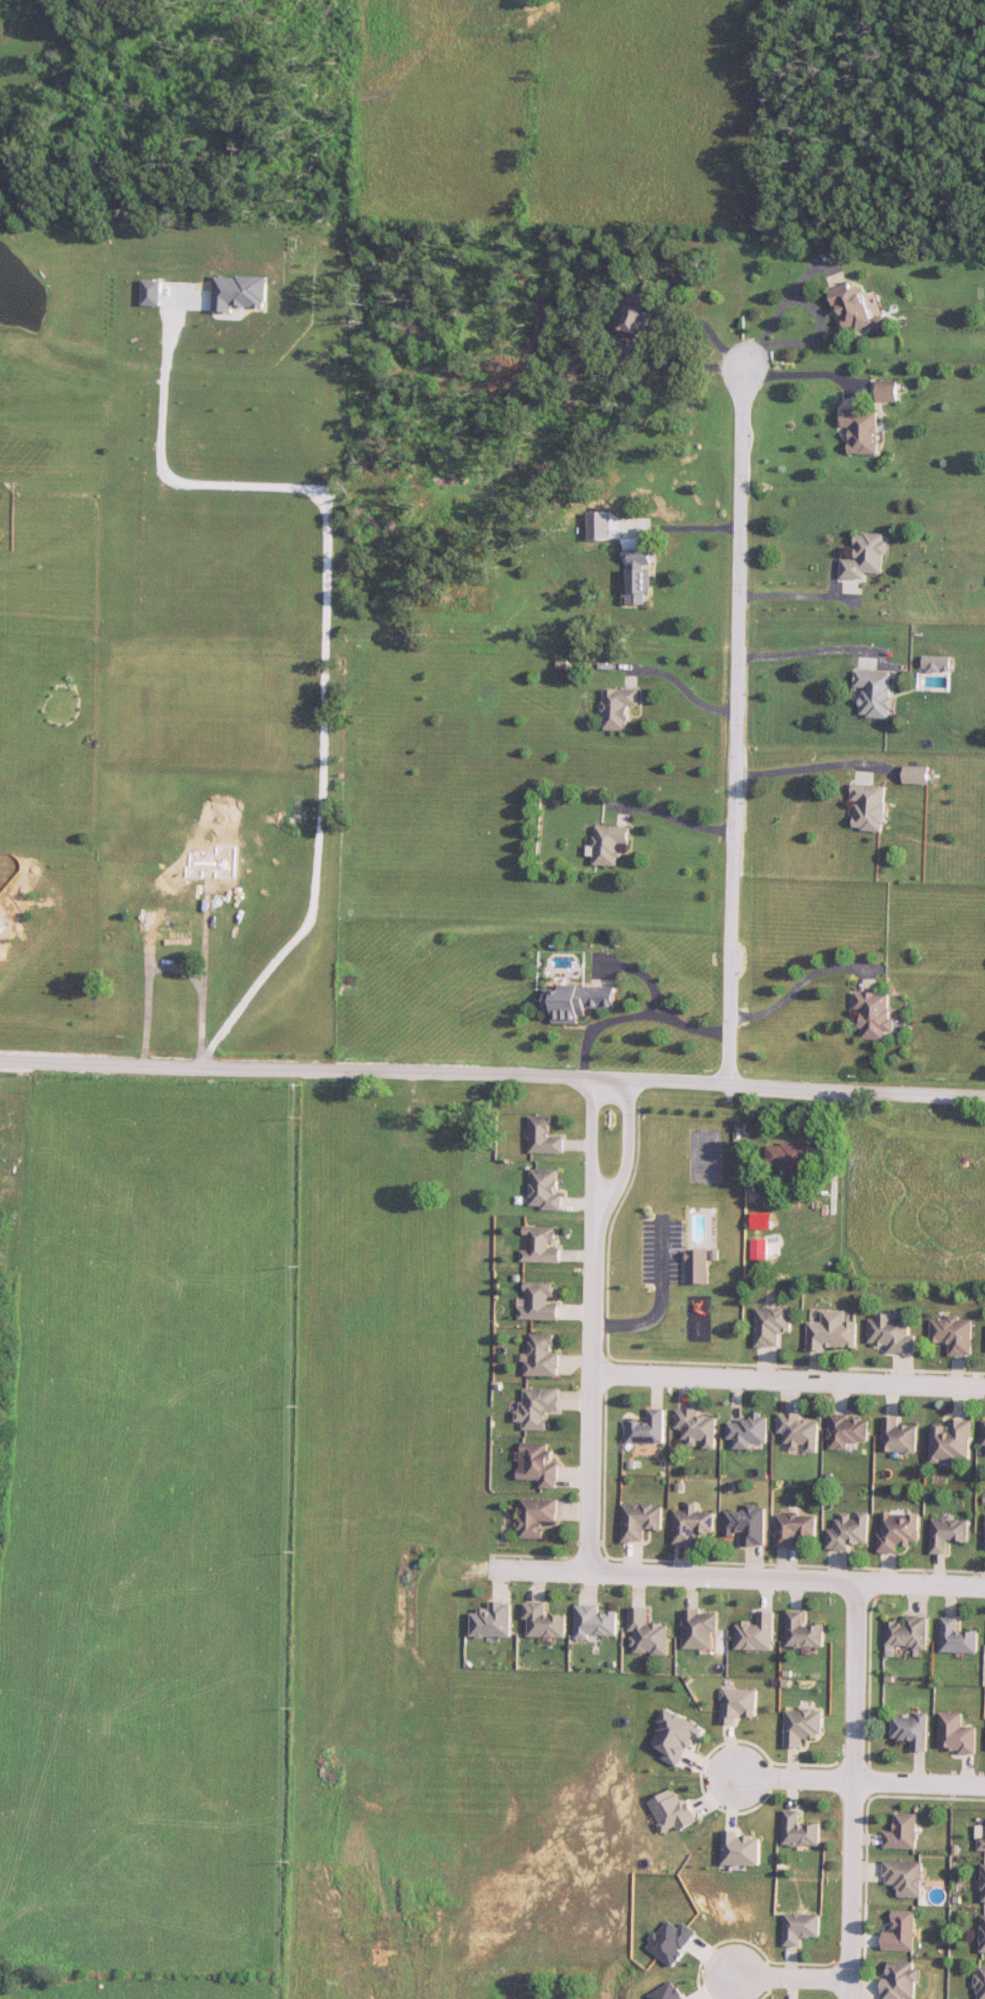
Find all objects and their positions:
building: (851, 307)
building: (639, 309)
road: (780, 309)
road: (678, 371)
road: (808, 378)
building: (887, 391)
building: (862, 431)
road: (684, 531)
building: (866, 557)
building: (640, 577)
road: (813, 599)
road: (324, 631)
road: (817, 654)
road: (682, 691)
building: (876, 693)
building: (619, 708)
road: (736, 726)
road: (817, 770)
building: (918, 775)
building: (870, 807)
road: (670, 820)
building: (611, 844)
building: (198, 870)
building: (166, 924)
road: (206, 968)
road: (182, 971)
road: (805, 985)
building: (578, 1002)
road: (150, 1005)
building: (874, 1014)
road: (640, 1018)
road: (492, 1074)
building: (407, 1128)
building: (545, 1136)
road: (593, 1156)
building: (705, 1156)
building: (789, 1159)
road: (626, 1161)
building: (546, 1189)
building: (541, 1245)
building: (760, 1249)
building: (698, 1267)
building: (540, 1302)
building: (772, 1326)
building: (833, 1333)
building: (892, 1334)
building: (953, 1335)
building: (544, 1355)
road: (788, 1381)
road: (590, 1401)
building: (540, 1408)
building: (649, 1428)
building: (698, 1429)
building: (749, 1431)
building: (849, 1431)
building: (800, 1432)
building: (984, 1433)
building: (900, 1437)
building: (953, 1442)
building: (539, 1465)
building: (537, 1517)
building: (641, 1521)
building: (692, 1524)
building: (749, 1525)
building: (795, 1529)
building: (850, 1531)
building: (899, 1531)
building: (948, 1533)
road: (735, 1577)
building: (494, 1621)
building: (545, 1622)
building: (596, 1622)
building: (700, 1630)
building: (803, 1632)
building: (908, 1633)
building: (648, 1634)
building: (957, 1638)
road: (856, 1684)
building: (802, 1726)
building: (911, 1730)
building: (956, 1734)
road: (850, 1783)
building: (799, 1831)
building: (902, 1833)
building: (982, 1839)
building: (904, 1877)
building: (984, 1884)
road: (851, 1891)
building: (799, 1928)
building: (901, 1933)
building: (983, 1935)
road: (781, 1974)
building: (901, 1981)
building: (981, 1983)

